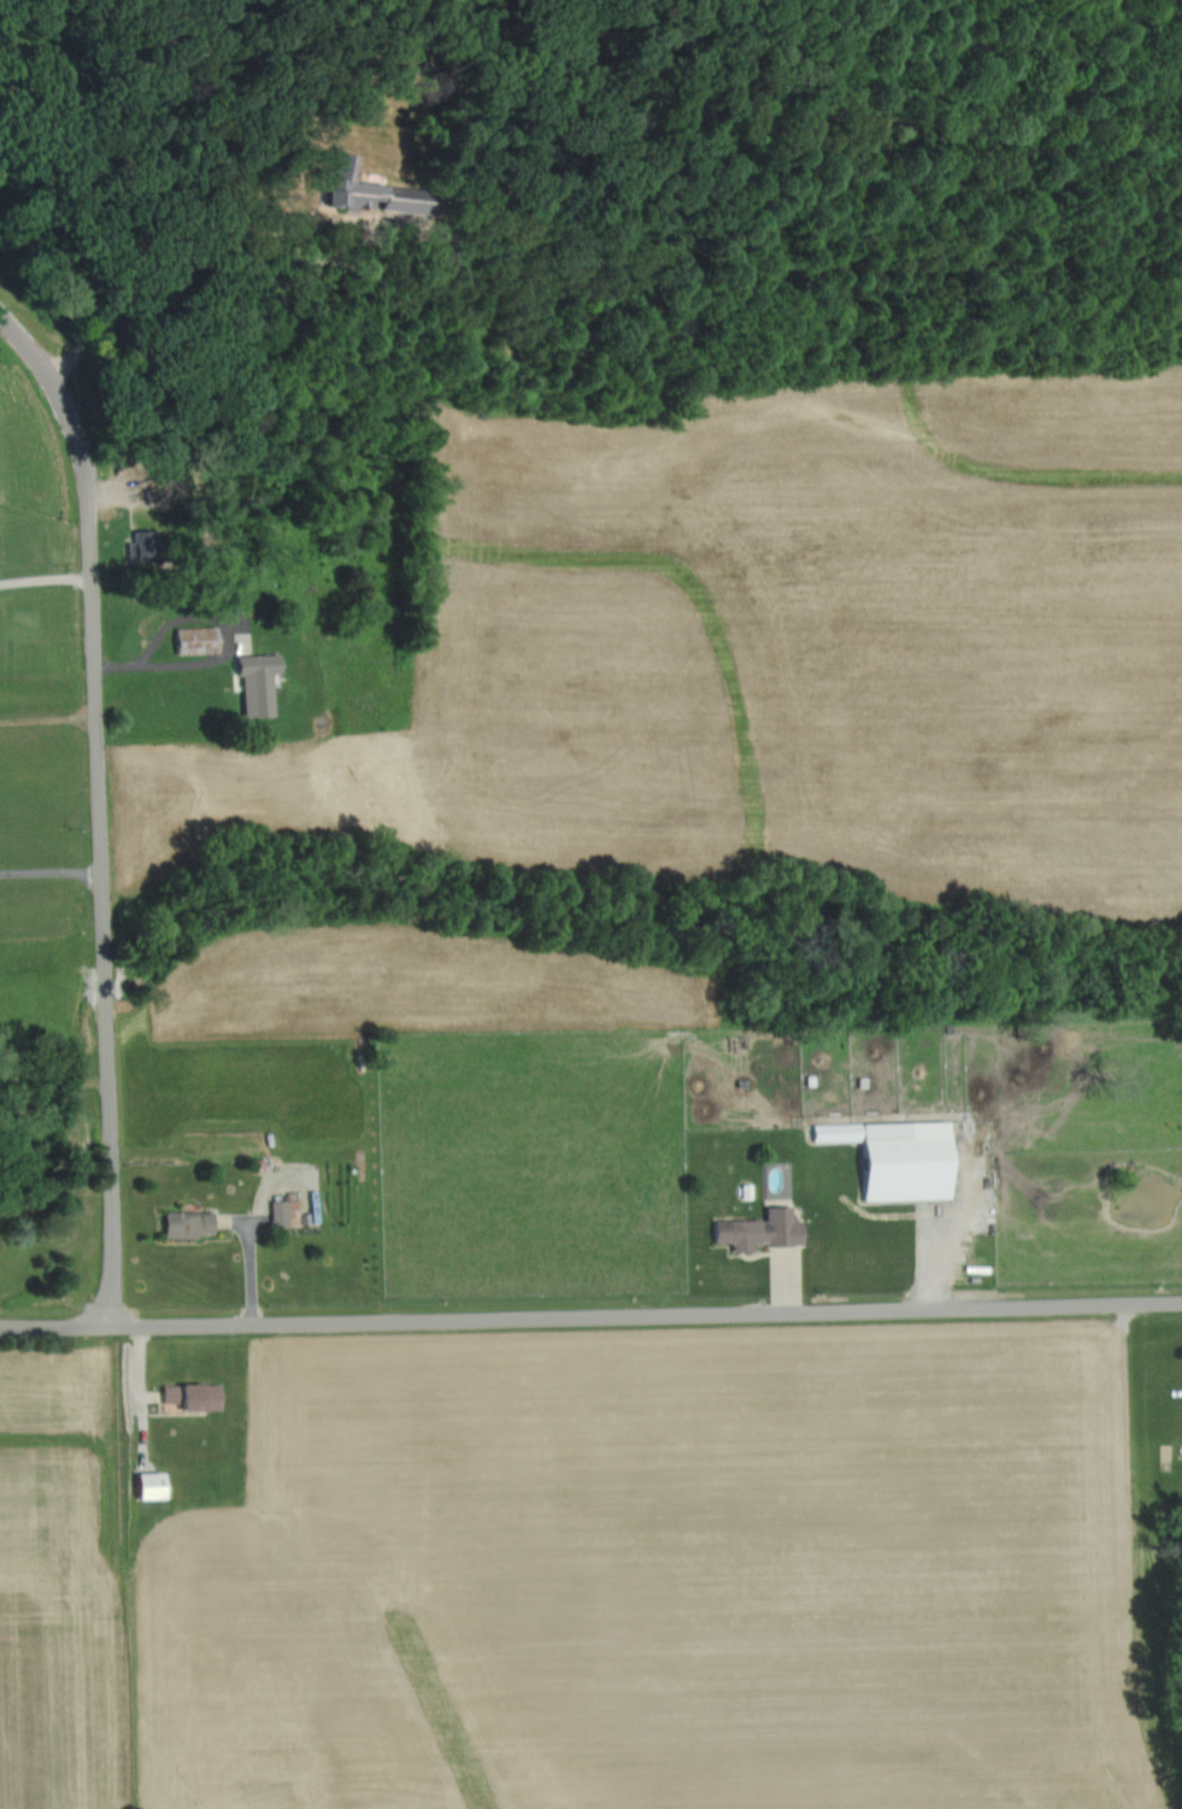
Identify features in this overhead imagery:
building: (354, 190)
road: (45, 562)
building: (193, 636)
road: (164, 650)
building: (252, 686)
road: (47, 715)
road: (96, 803)
road: (49, 868)
building: (892, 1158)
building: (283, 1214)
building: (183, 1224)
building: (754, 1232)
road: (590, 1322)
building: (188, 1397)
building: (143, 1487)

